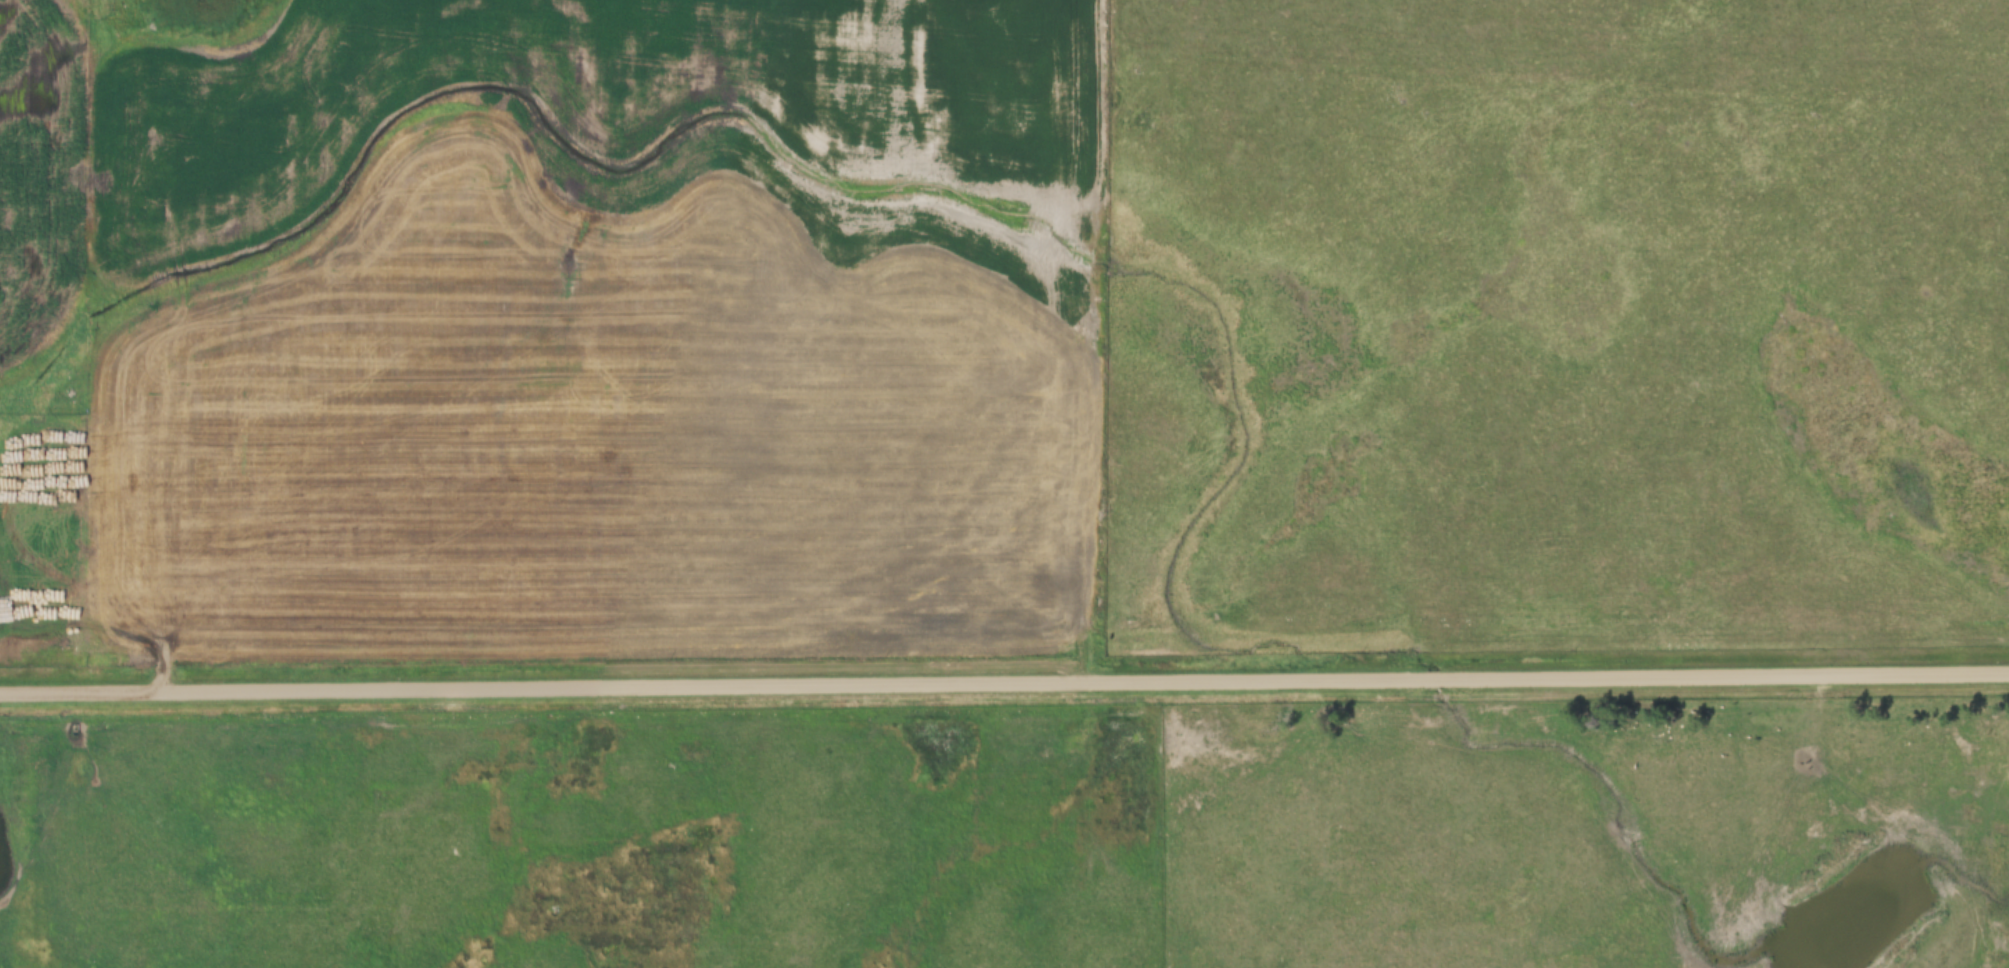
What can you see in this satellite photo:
road: (1004, 685)

